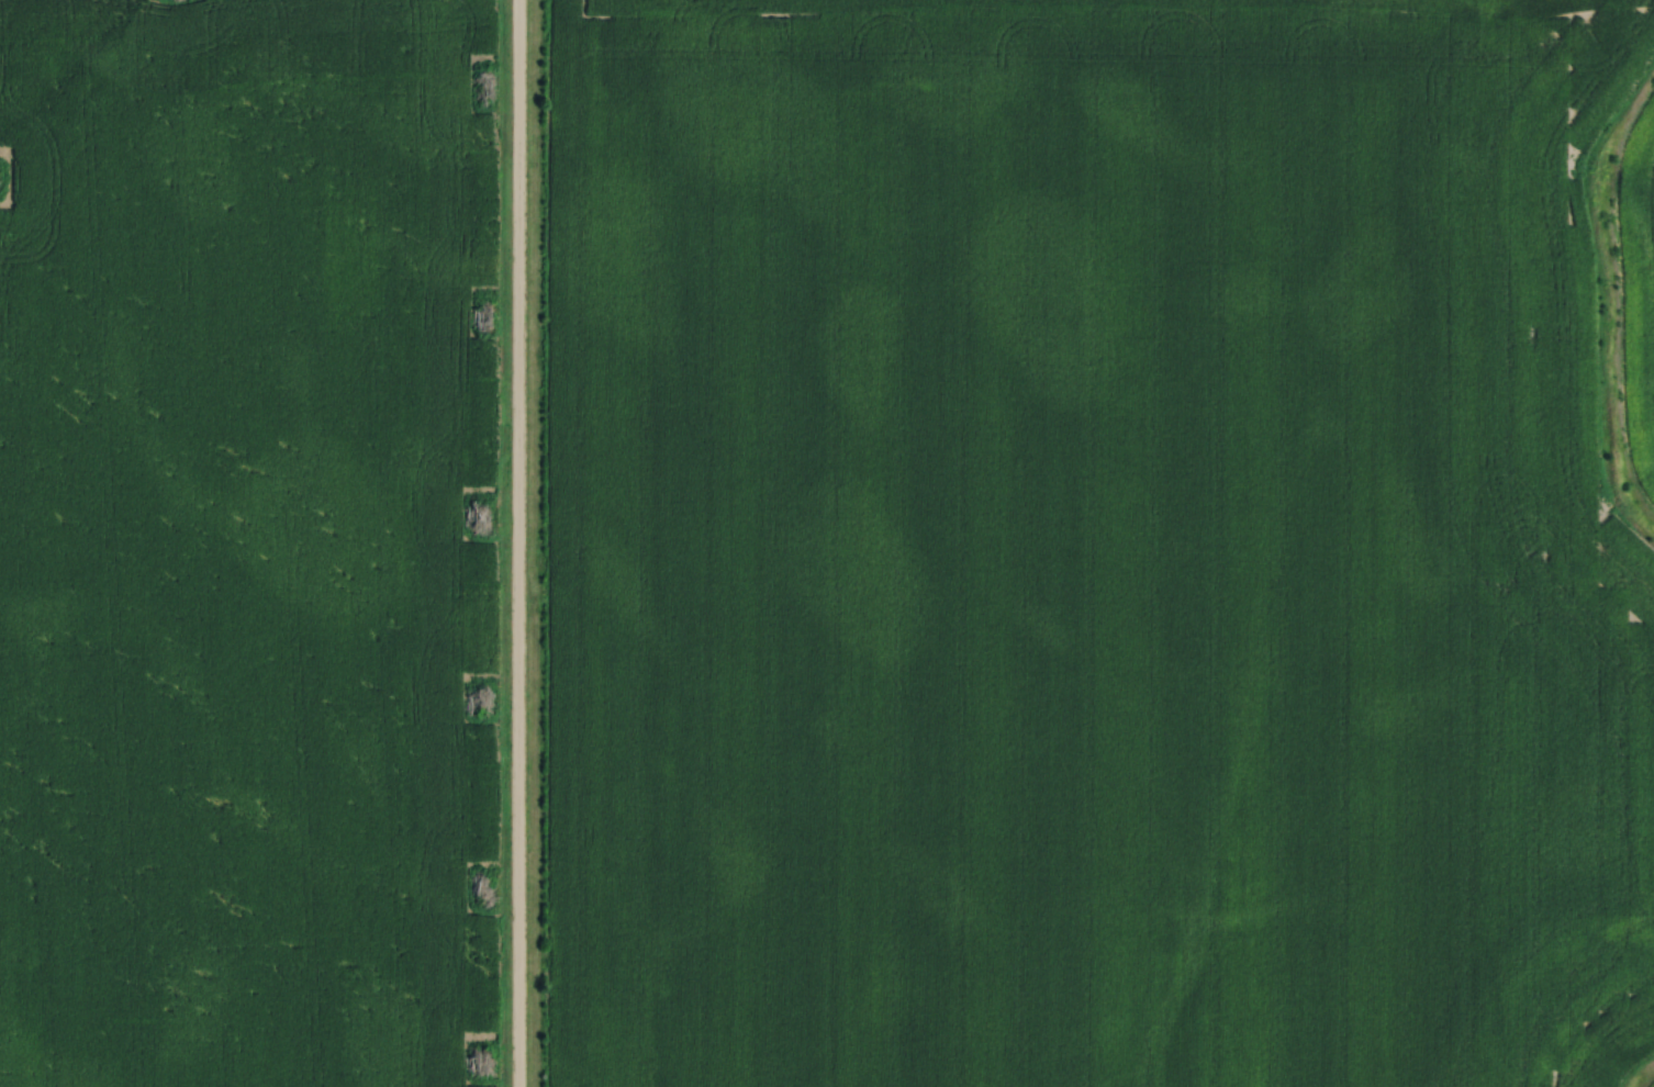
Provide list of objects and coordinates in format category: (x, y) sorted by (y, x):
road: (516, 543)

